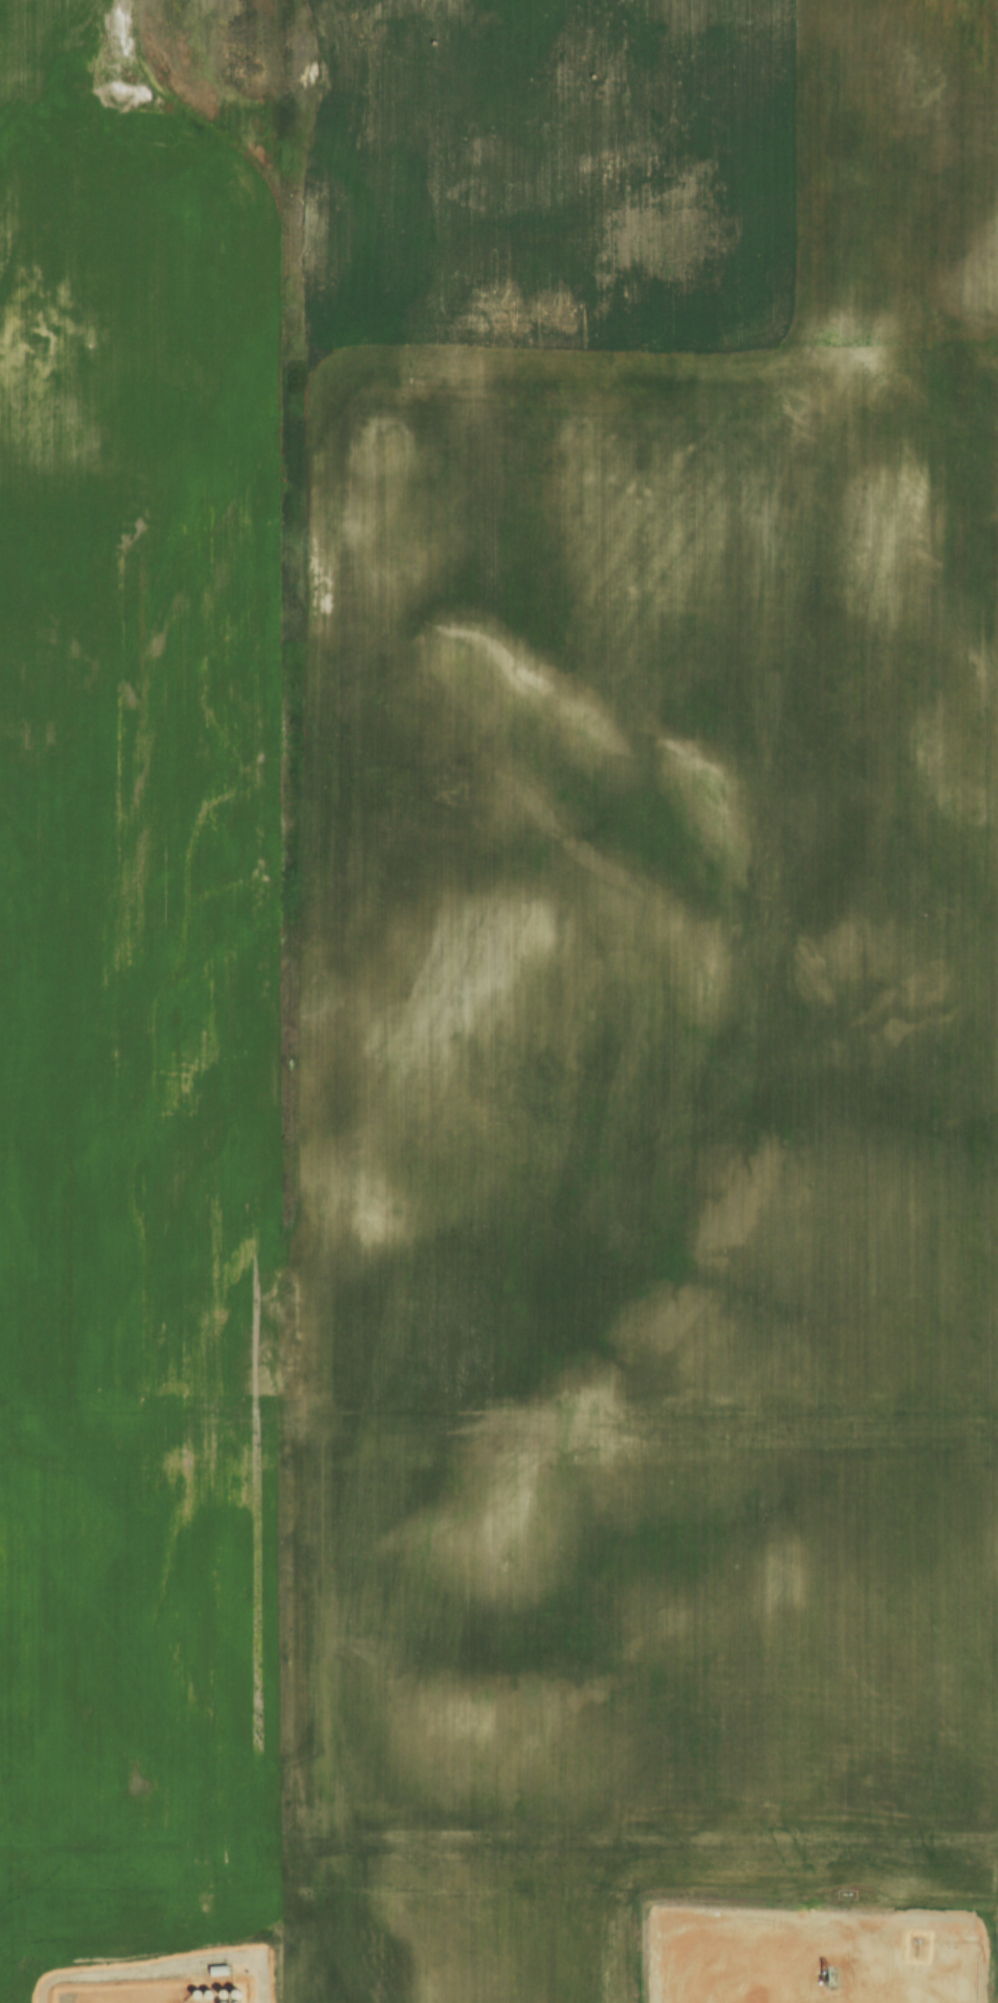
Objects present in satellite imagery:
building: (864, 1961)

